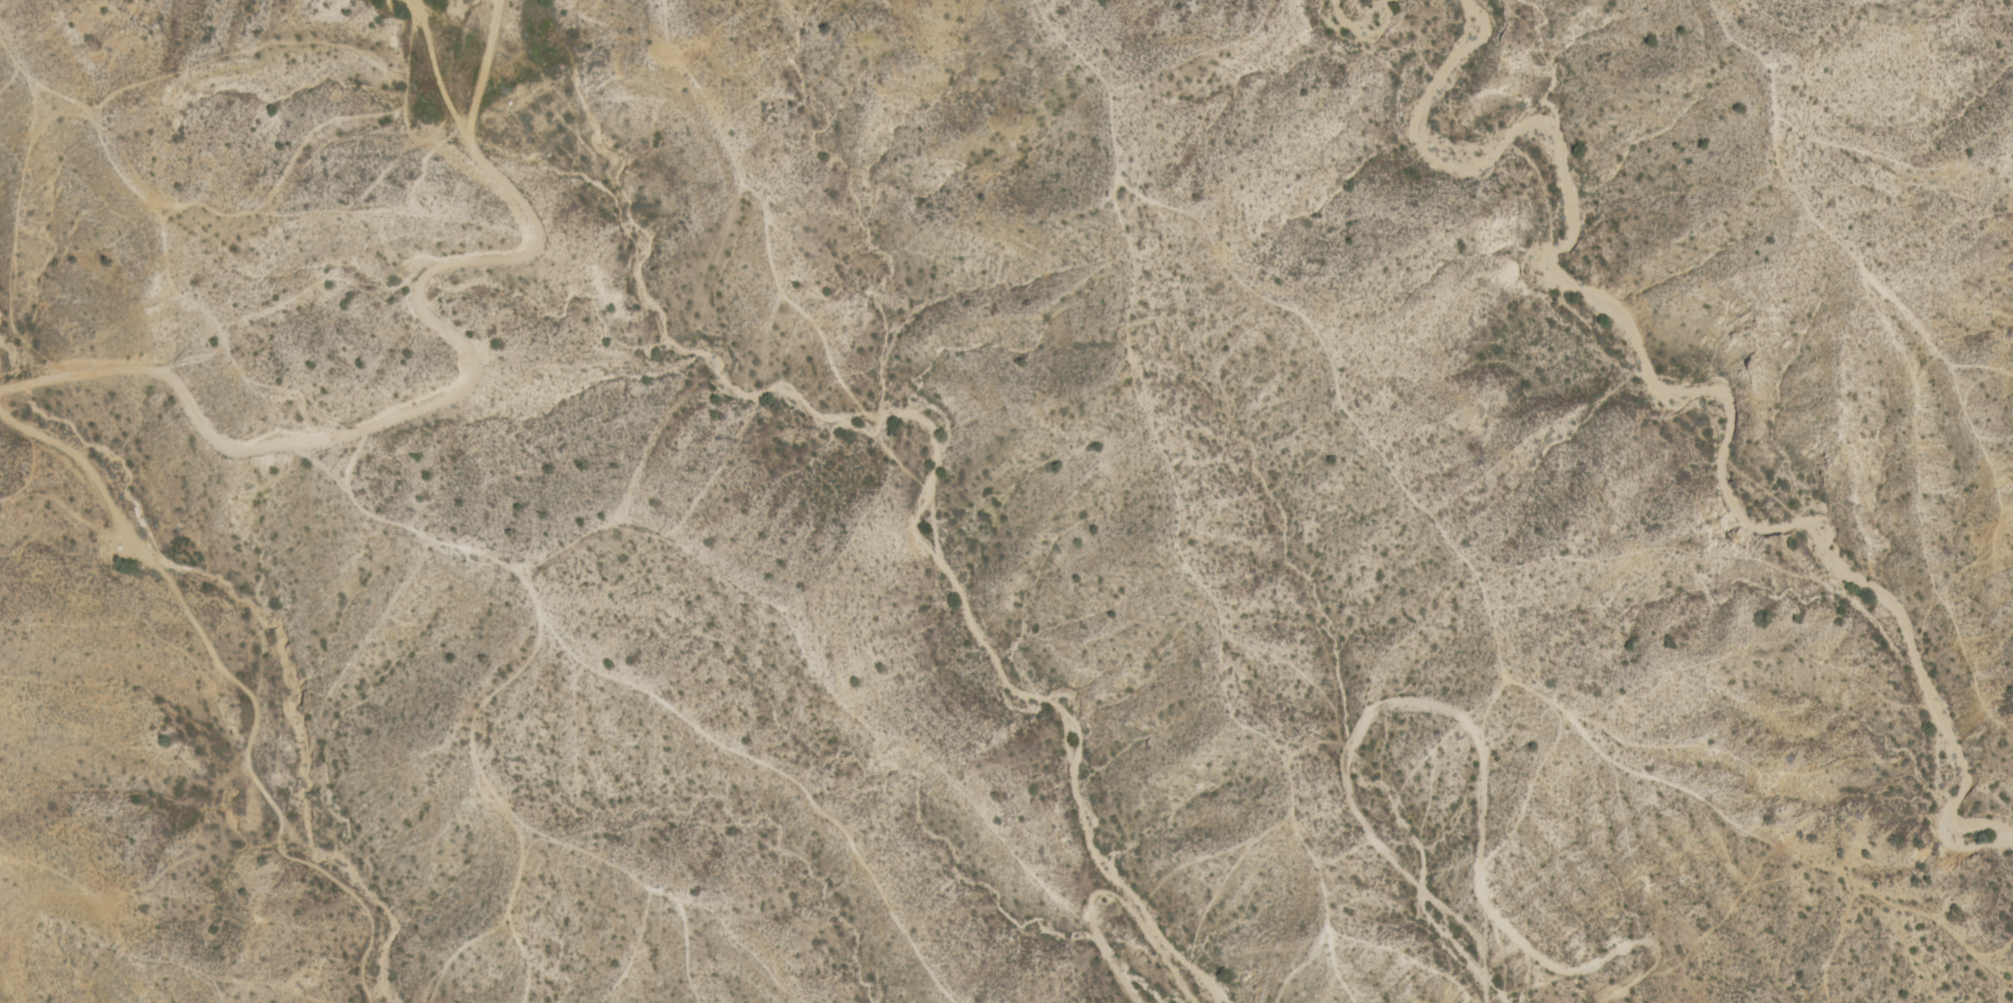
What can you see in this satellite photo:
road: (471, 378)
road: (214, 681)

